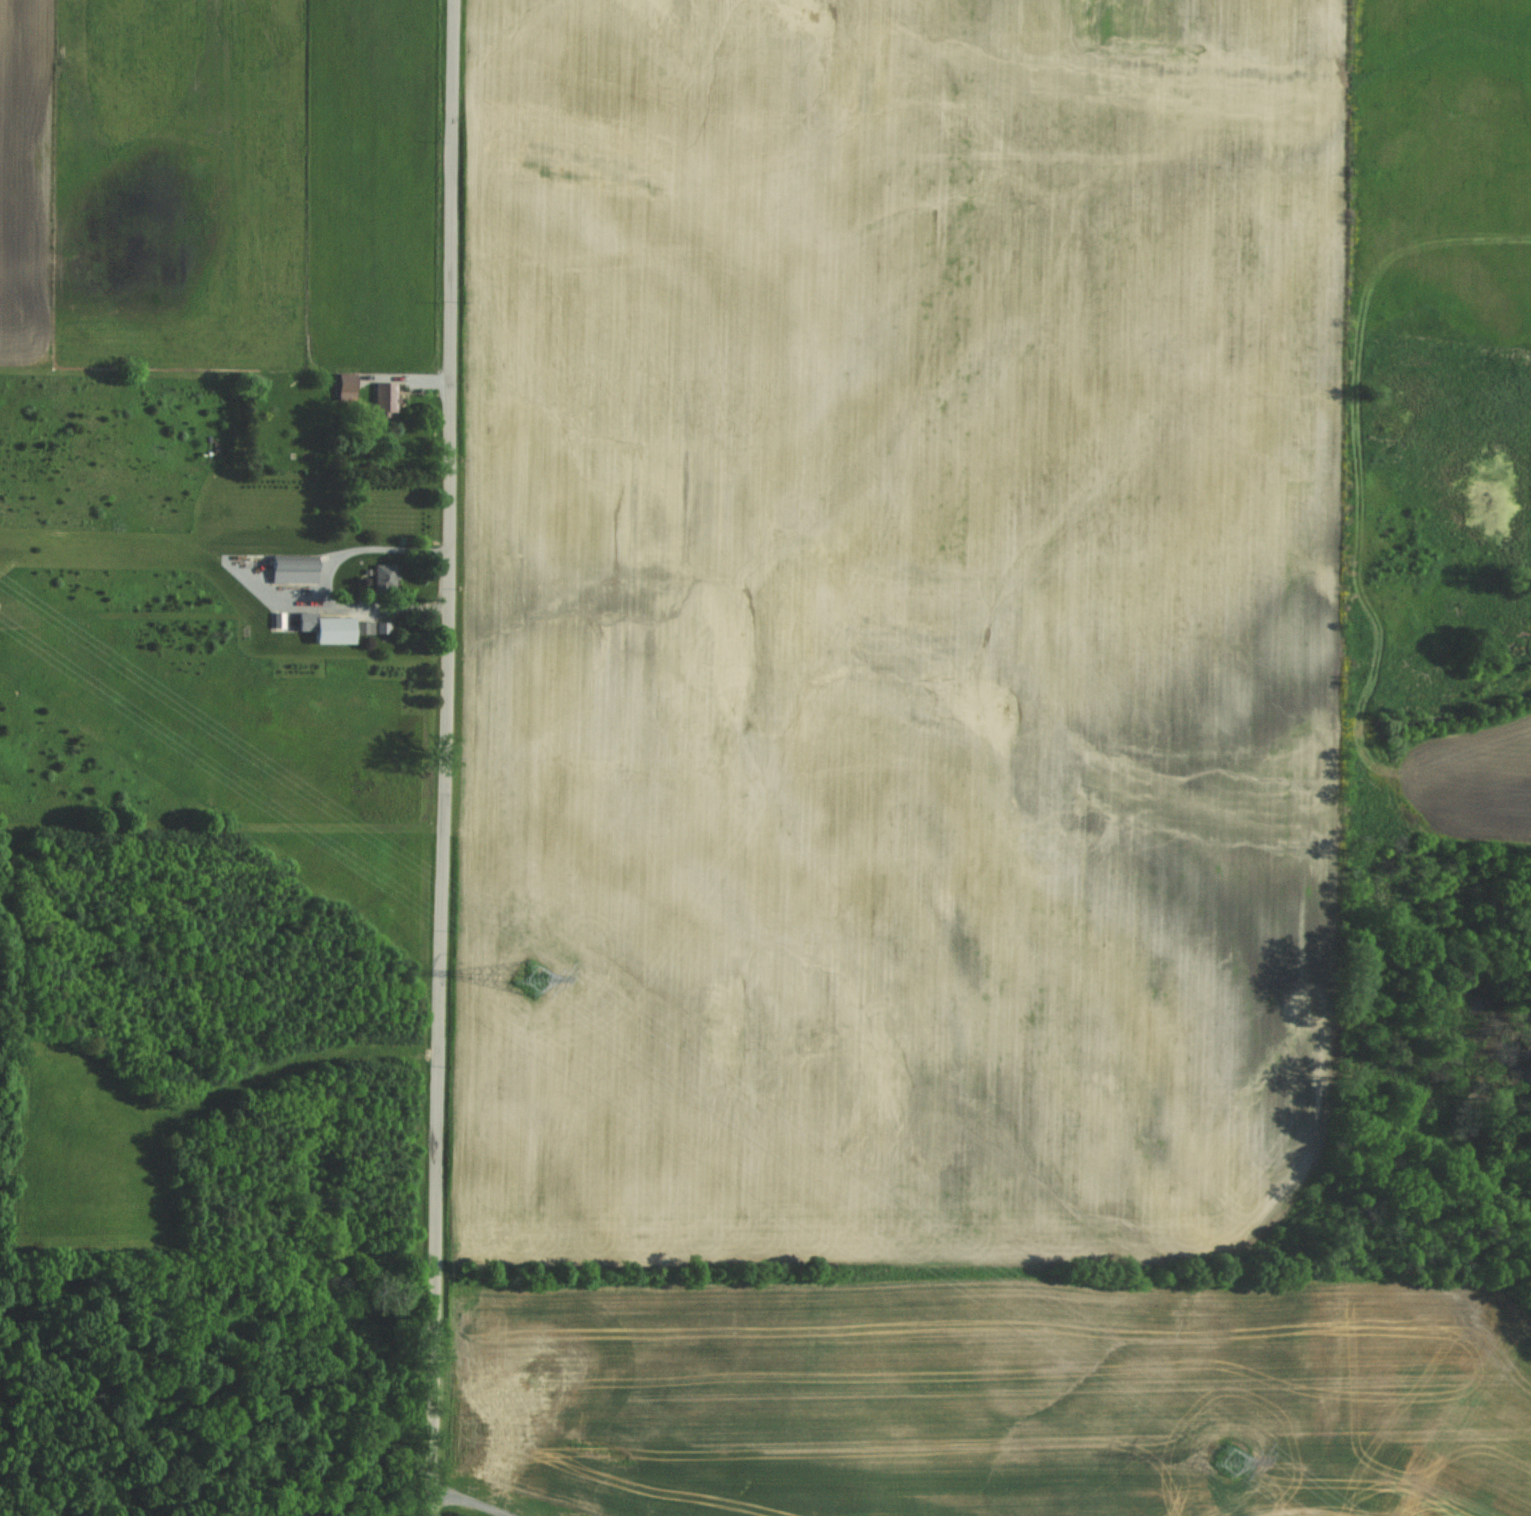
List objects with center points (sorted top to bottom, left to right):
building: (347, 389)
building: (386, 400)
road: (381, 550)
building: (299, 565)
building: (385, 578)
building: (367, 630)
building: (334, 631)
road: (446, 758)
power tower: (531, 980)
power tower: (1228, 1465)
road: (327, 1512)

